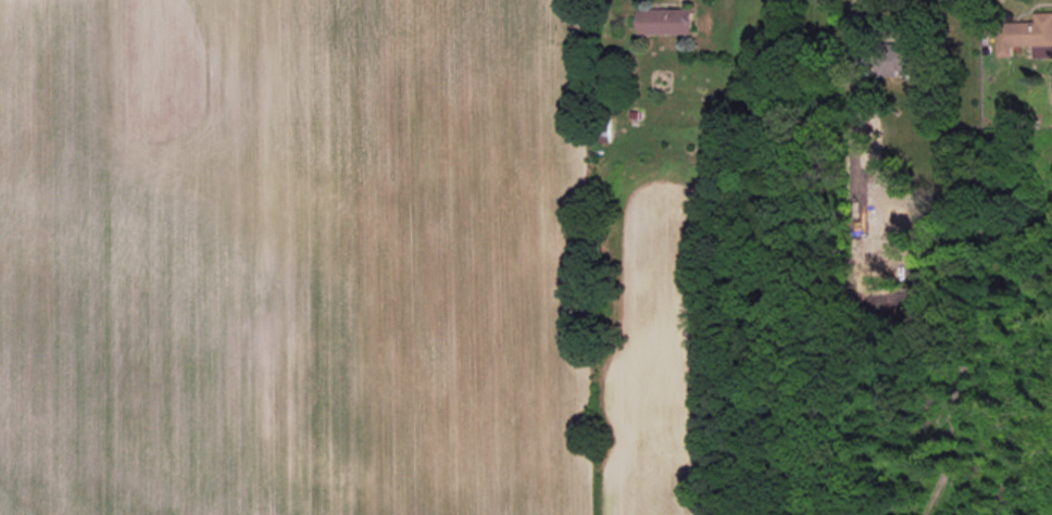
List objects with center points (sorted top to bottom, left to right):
building: (665, 21)
road: (855, 30)
building: (1026, 36)
building: (913, 56)

